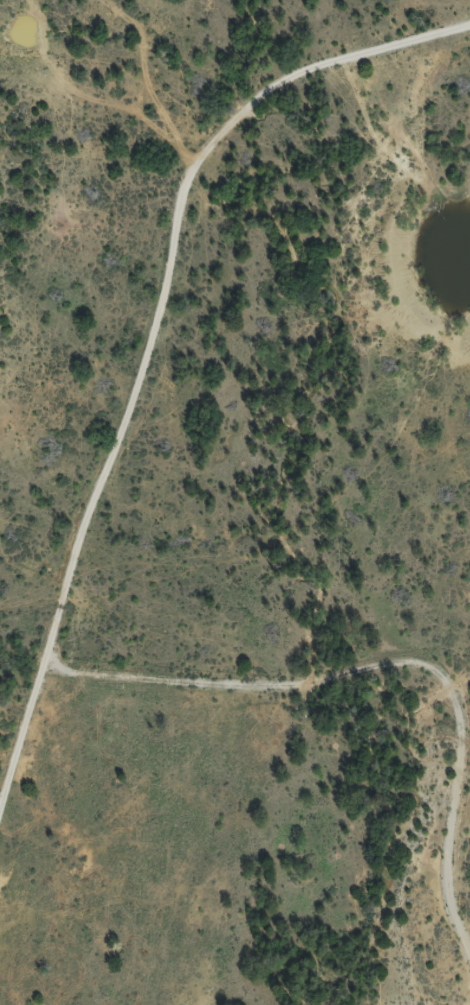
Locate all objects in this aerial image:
road: (137, 404)
road: (260, 715)

